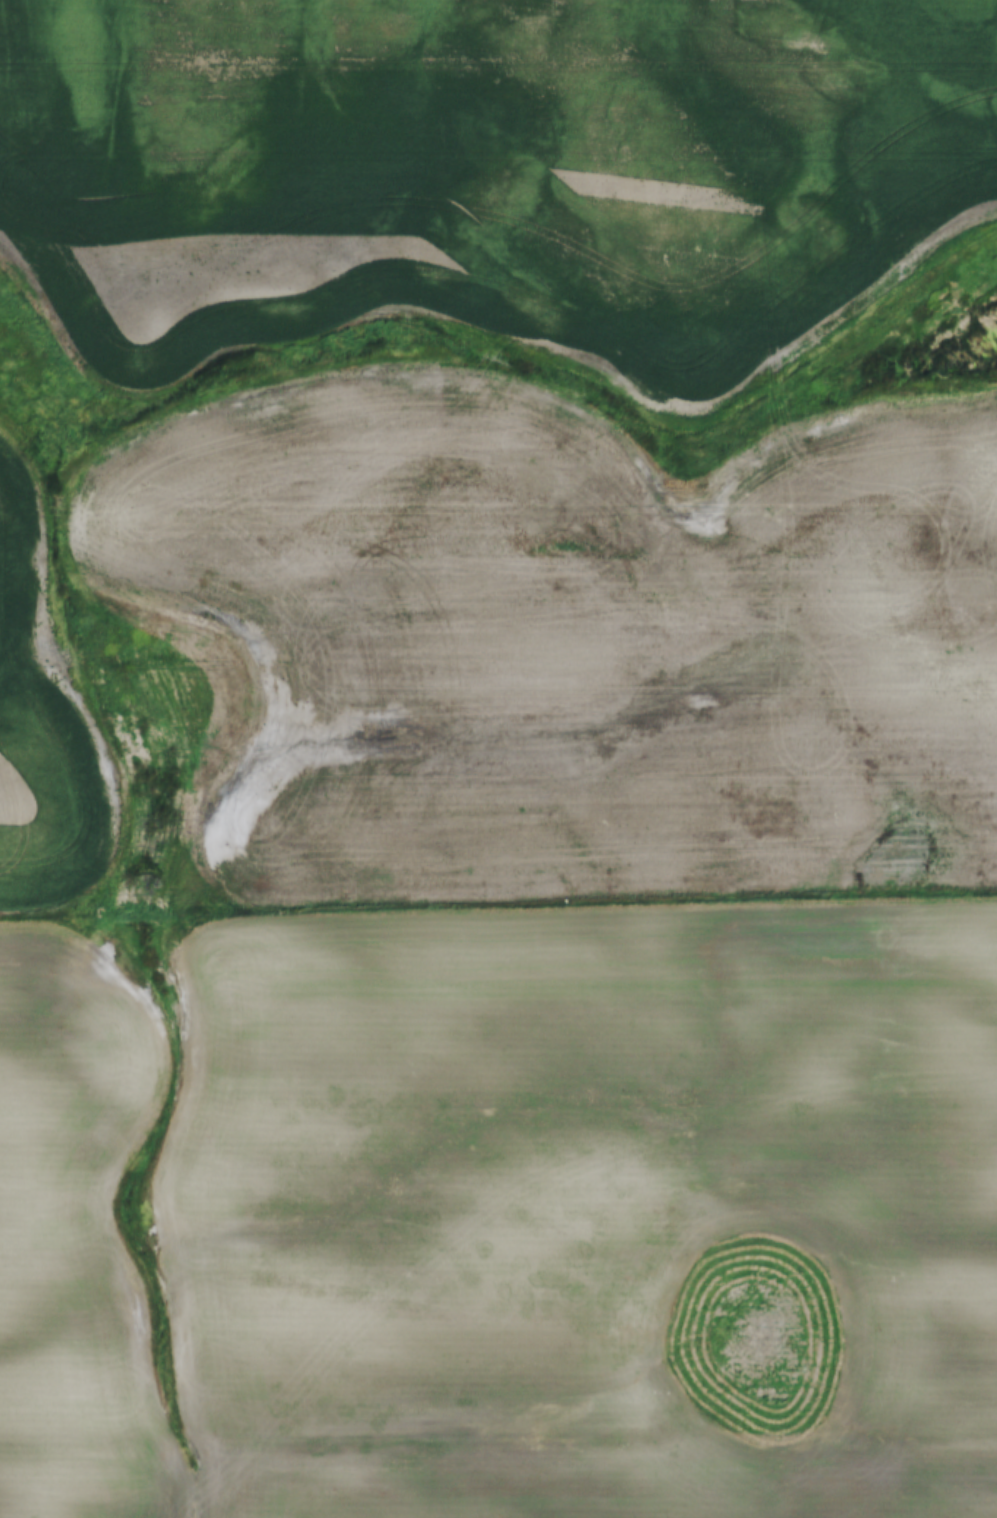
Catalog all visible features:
road: (917, 366)

